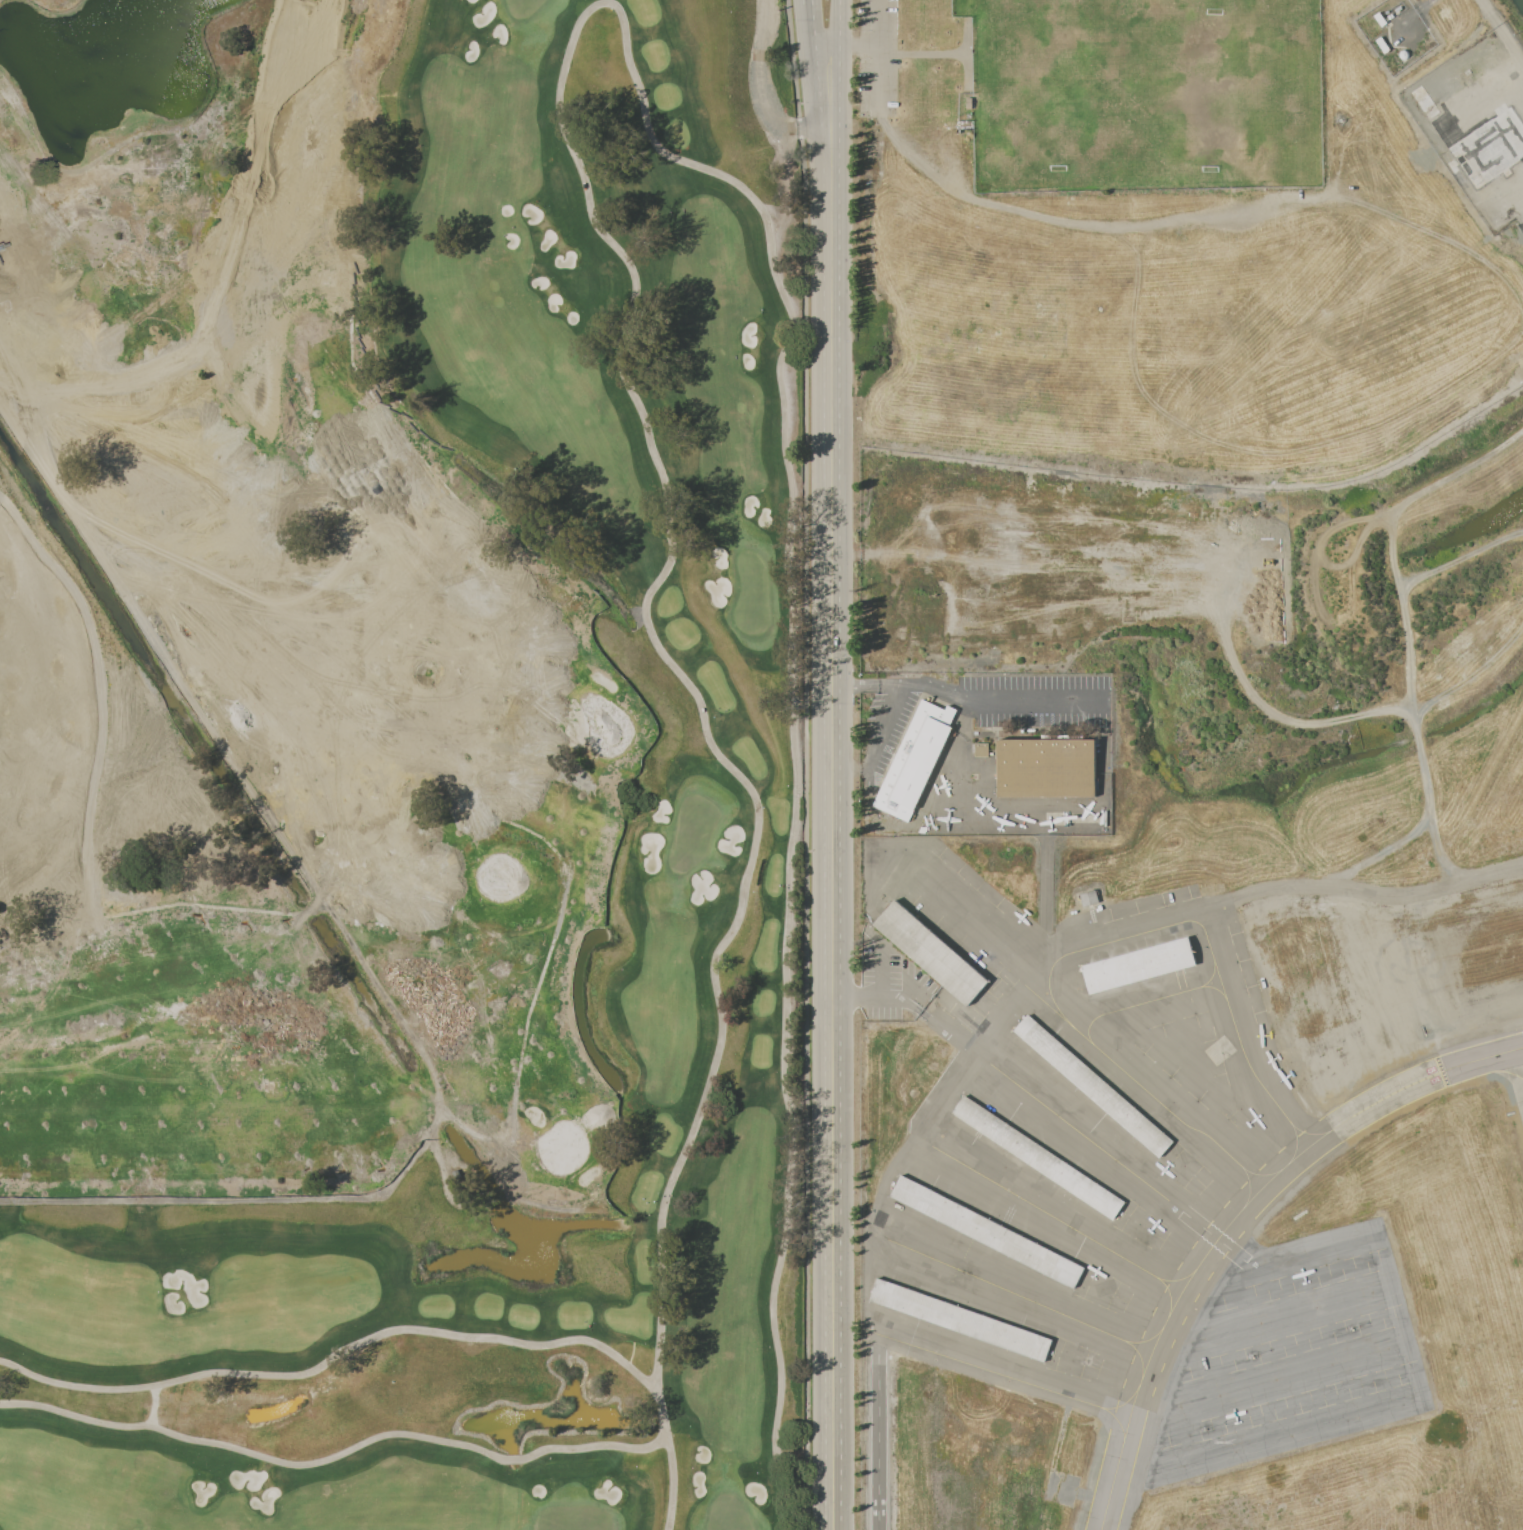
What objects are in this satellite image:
road: (815, 1)
road: (1504, 27)
road: (860, 45)
road: (346, 49)
road: (876, 51)
road: (937, 53)
parking lot: (875, 60)
road: (841, 64)
road: (821, 65)
park: (1054, 85)
park: (1206, 85)
building: (971, 102)
building: (1426, 104)
building: (1499, 141)
building: (1499, 217)
road: (377, 402)
road: (965, 699)
road: (880, 719)
building: (981, 749)
building: (915, 760)
road: (811, 764)
park: (402, 766)
building: (1046, 767)
road: (490, 777)
road: (582, 789)
road: (264, 803)
road: (835, 828)
airport: (1205, 847)
road: (566, 884)
building: (1089, 897)
road: (161, 907)
building: (930, 952)
building: (1139, 964)
road: (879, 970)
road: (880, 996)
building: (1092, 1085)
airport hangar: (1069, 1141)
building: (1039, 1157)
road: (480, 1204)
airport taxiway: (1232, 1218)
building: (986, 1230)
airport taxiway: (1026, 1298)
building: (960, 1320)
airport taxiway: (1145, 1339)
airport taxiway: (1010, 1377)
airport taxiway: (1116, 1420)
road: (876, 1432)

